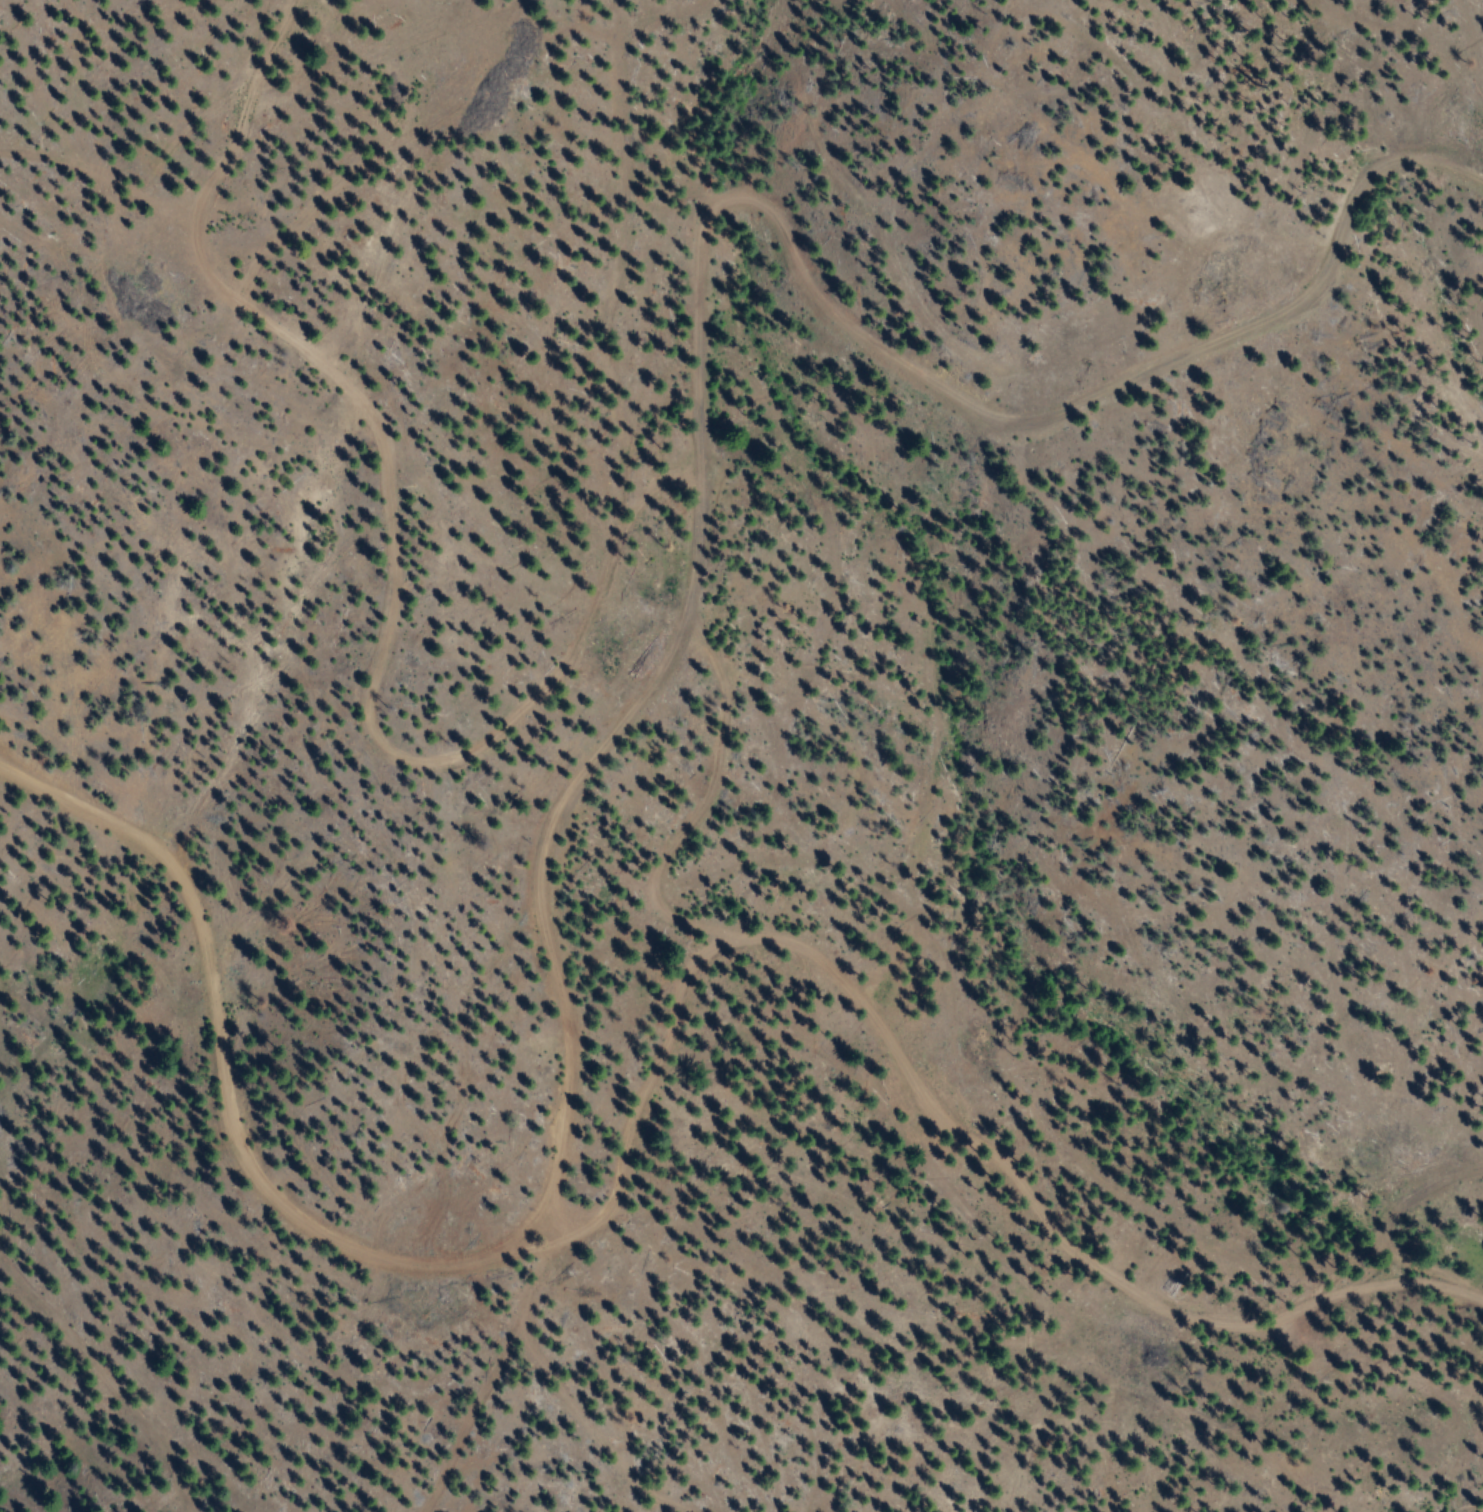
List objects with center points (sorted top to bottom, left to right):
road: (717, 657)

